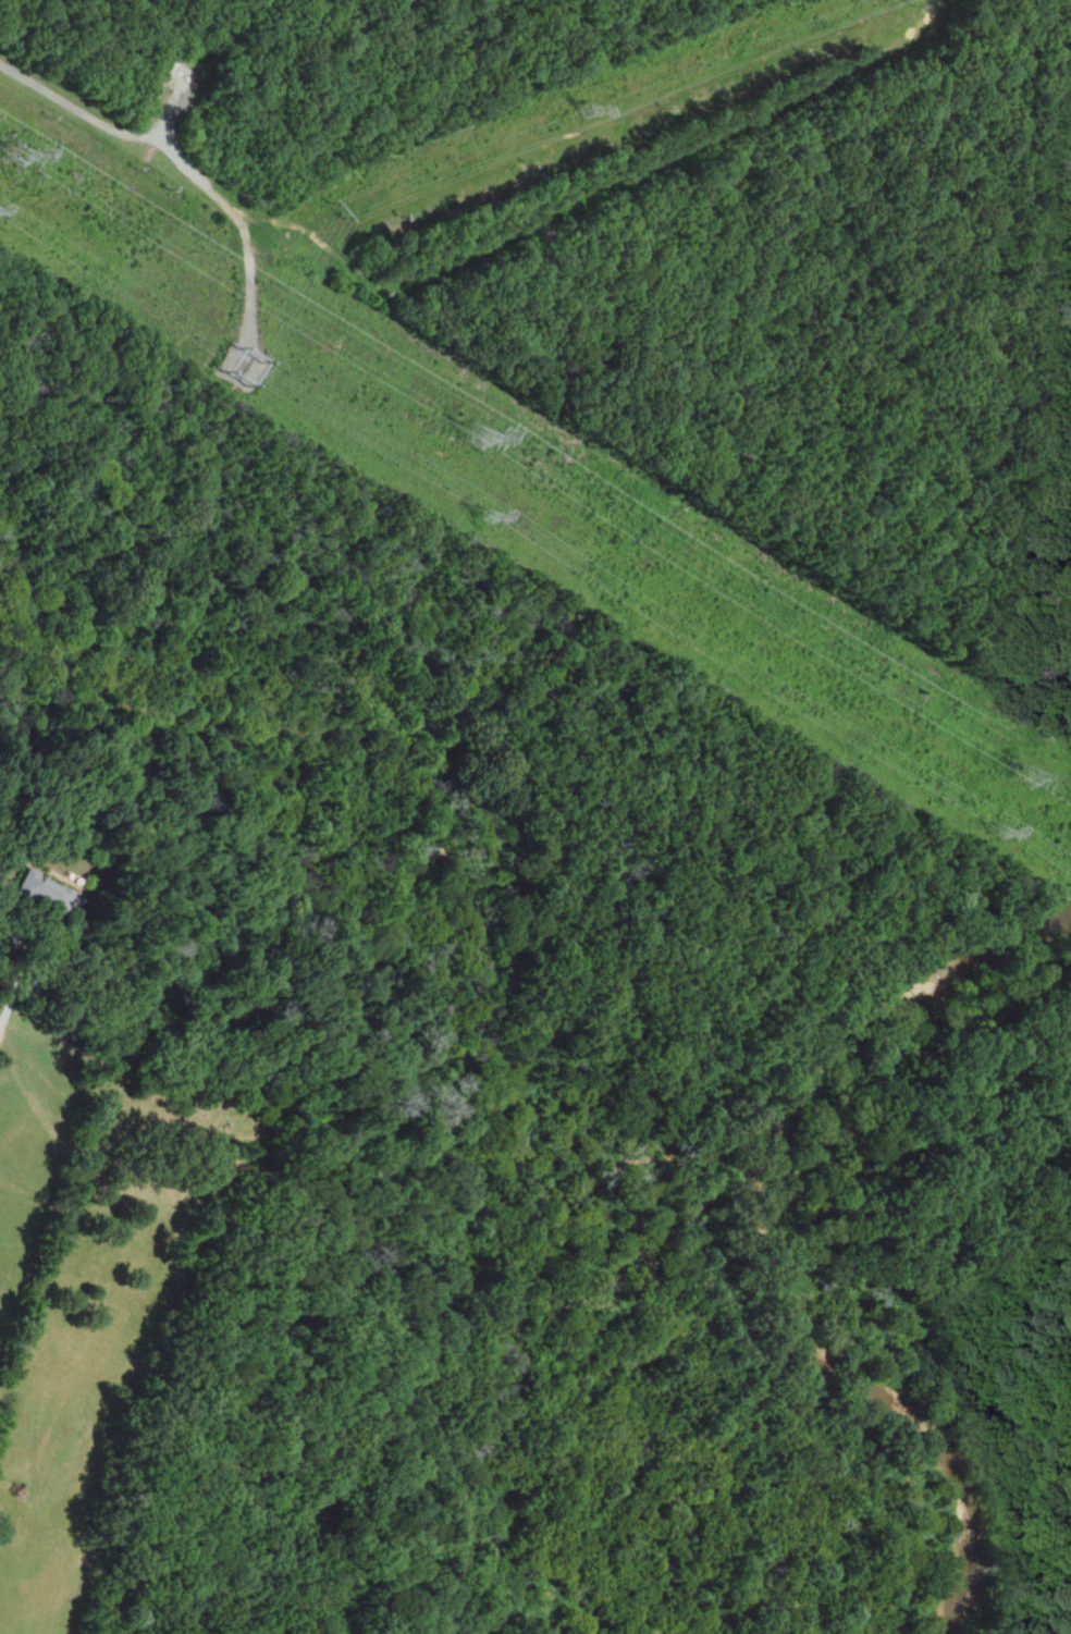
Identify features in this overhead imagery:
power tower: (587, 114)
road: (607, 125)
road: (183, 157)
power tower: (19, 158)
road: (593, 197)
power tower: (324, 214)
power tower: (239, 367)
power tower: (475, 429)
power tower: (483, 514)
power tower: (1025, 779)
power tower: (1005, 832)
building: (41, 895)
road: (20, 981)
river: (758, 1239)

